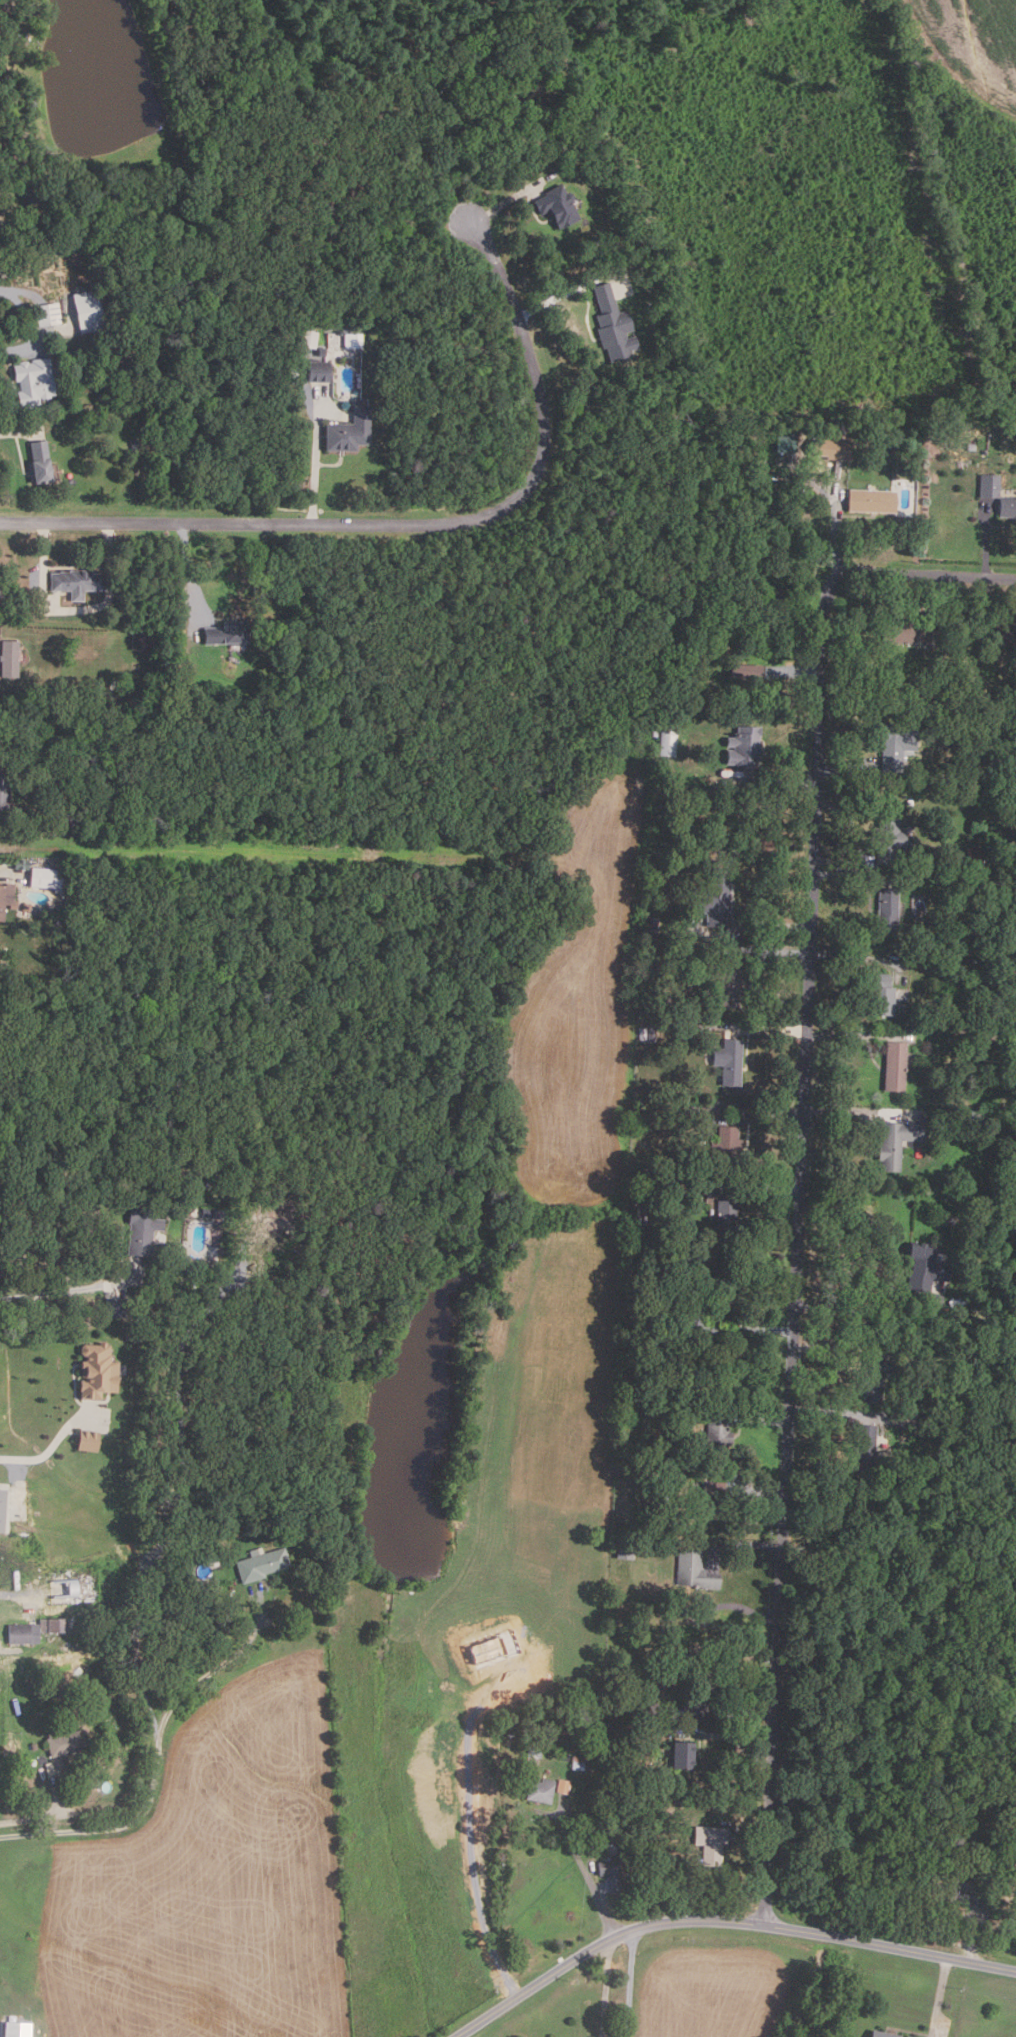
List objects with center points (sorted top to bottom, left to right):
building: (566, 166)
building: (34, 195)
road: (506, 202)
building: (556, 205)
building: (10, 259)
building: (5, 273)
road: (560, 295)
building: (115, 305)
building: (91, 310)
road: (28, 312)
building: (50, 315)
building: (610, 325)
building: (338, 333)
building: (308, 339)
building: (351, 341)
road: (20, 348)
building: (320, 353)
building: (316, 371)
building: (37, 381)
road: (20, 431)
building: (348, 431)
building: (136, 444)
building: (888, 444)
building: (783, 445)
building: (971, 447)
building: (828, 448)
road: (316, 461)
building: (42, 463)
building: (987, 486)
building: (871, 501)
building: (1007, 508)
road: (411, 525)
road: (837, 530)
road: (985, 537)
road: (45, 567)
road: (188, 574)
building: (81, 582)
road: (941, 605)
building: (903, 632)
building: (223, 634)
building: (1006, 636)
building: (178, 637)
building: (144, 640)
building: (12, 658)
building: (747, 673)
building: (264, 689)
building: (904, 696)
building: (924, 696)
building: (1003, 702)
building: (653, 733)
building: (667, 744)
building: (895, 746)
building: (742, 747)
road: (846, 768)
building: (56, 775)
road: (772, 780)
building: (6, 793)
building: (61, 794)
building: (909, 802)
road: (851, 821)
building: (887, 836)
building: (973, 854)
road: (841, 861)
building: (24, 865)
road: (853, 872)
building: (48, 879)
building: (963, 892)
building: (714, 897)
building: (8, 899)
building: (885, 912)
building: (652, 925)
road: (743, 926)
road: (769, 951)
road: (864, 957)
building: (975, 958)
building: (948, 961)
building: (726, 983)
road: (762, 991)
building: (880, 994)
road: (765, 1028)
building: (649, 1033)
road: (859, 1035)
building: (979, 1044)
building: (727, 1061)
building: (893, 1067)
building: (687, 1108)
road: (862, 1110)
road: (746, 1112)
building: (976, 1118)
building: (895, 1143)
building: (725, 1146)
building: (916, 1152)
road: (800, 1158)
road: (759, 1183)
building: (663, 1184)
building: (215, 1212)
building: (724, 1220)
building: (145, 1229)
building: (922, 1268)
road: (72, 1290)
building: (722, 1292)
road: (848, 1307)
building: (959, 1315)
building: (650, 1317)
building: (682, 1326)
road: (737, 1329)
road: (840, 1345)
building: (101, 1370)
building: (874, 1376)
road: (833, 1412)
building: (679, 1416)
road: (762, 1417)
building: (716, 1435)
building: (90, 1440)
road: (53, 1447)
building: (863, 1448)
road: (757, 1489)
building: (708, 1501)
building: (5, 1508)
building: (194, 1518)
building: (234, 1527)
road: (741, 1543)
building: (623, 1546)
building: (259, 1563)
building: (694, 1571)
road: (19, 1599)
road: (737, 1607)
building: (60, 1624)
building: (26, 1633)
building: (493, 1645)
building: (662, 1663)
building: (672, 1664)
building: (697, 1689)
building: (635, 1704)
road: (719, 1716)
building: (583, 1720)
building: (607, 1726)
building: (68, 1740)
road: (733, 1741)
building: (35, 1746)
building: (533, 1751)
building: (681, 1755)
road: (158, 1757)
building: (564, 1757)
building: (583, 1763)
building: (52, 1768)
building: (561, 1786)
building: (538, 1790)
road: (46, 1816)
building: (605, 1826)
road: (749, 1829)
road: (470, 1830)
building: (708, 1844)
building: (1013, 1855)
building: (610, 1870)
road: (588, 1873)
building: (959, 1884)
road: (722, 1922)
road: (976, 1936)
road: (625, 1983)
road: (605, 1987)
road: (940, 1998)
building: (19, 2030)
building: (881, 2034)
building: (908, 2036)

